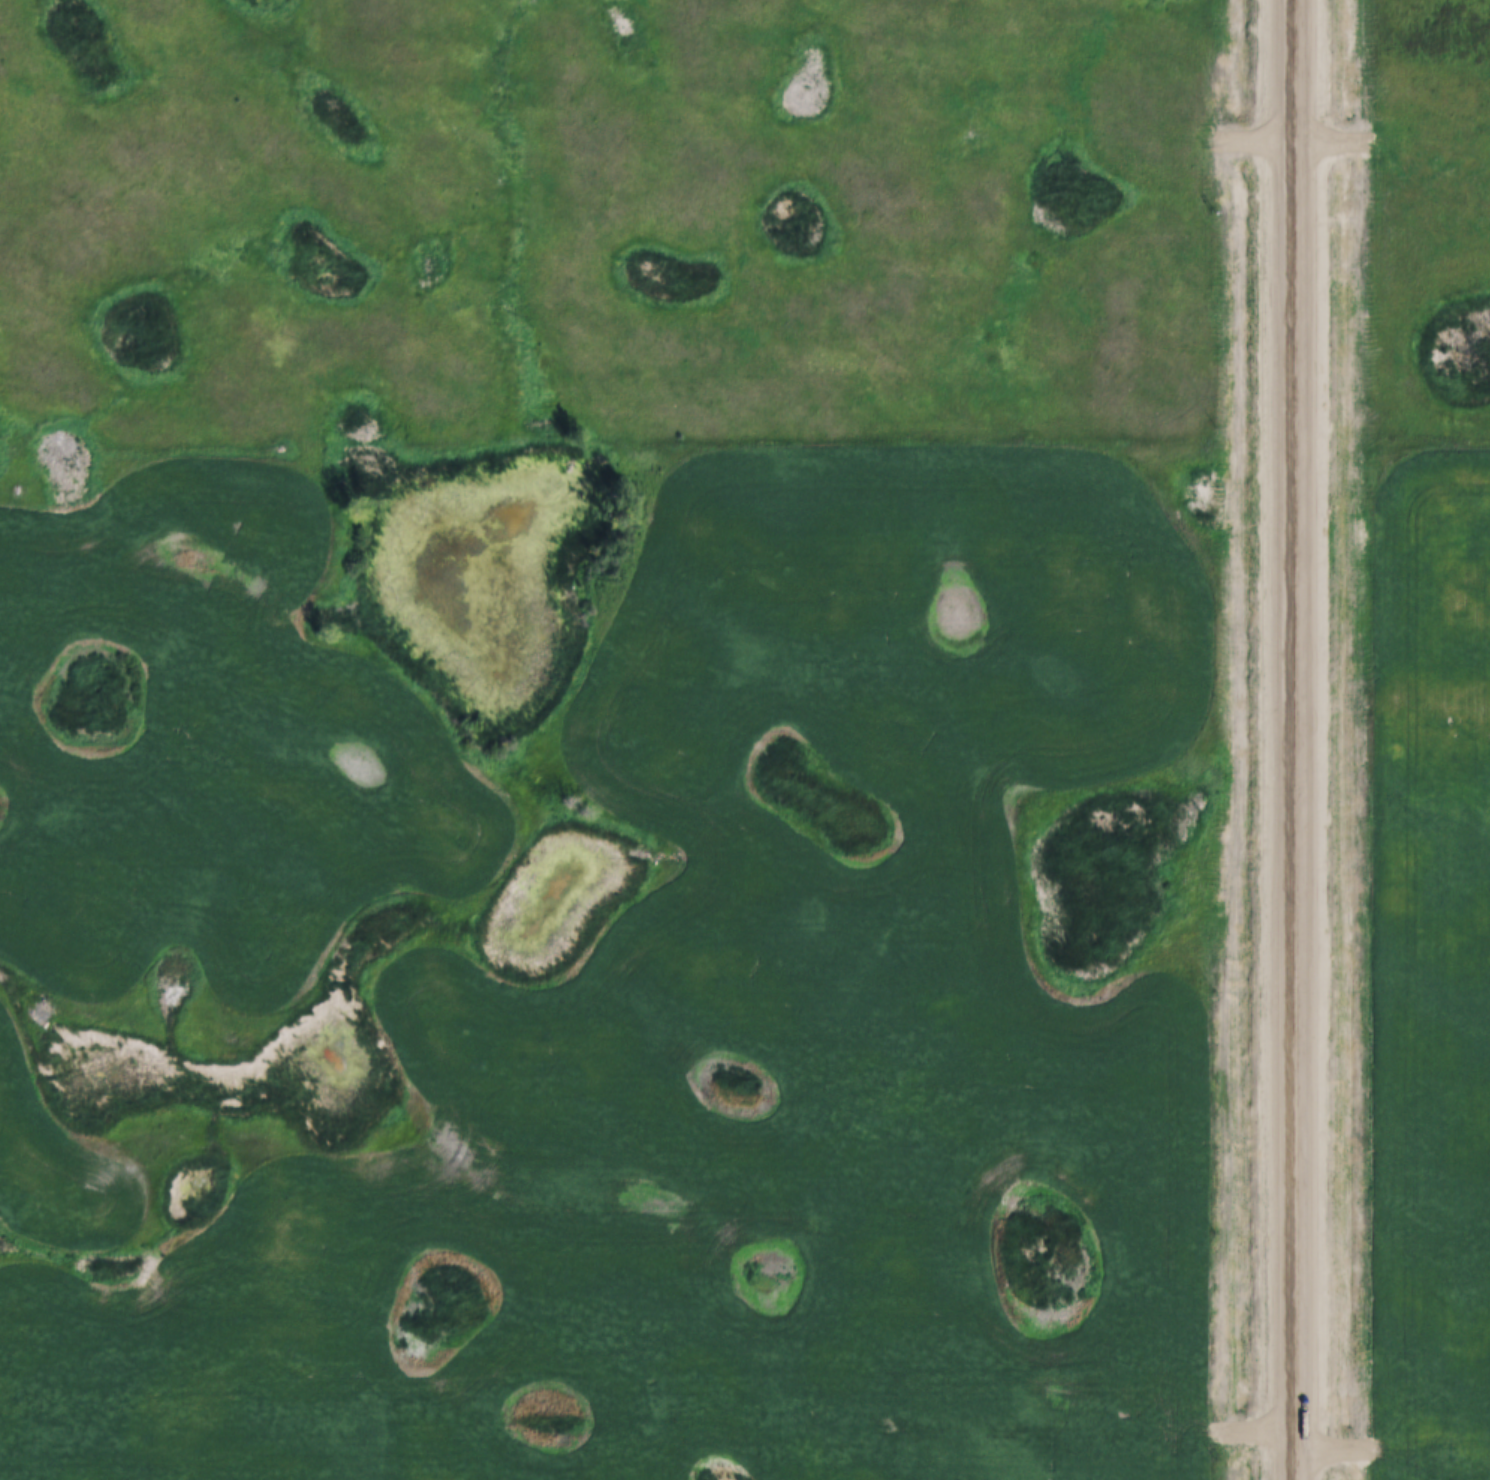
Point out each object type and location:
road: (1296, 740)

